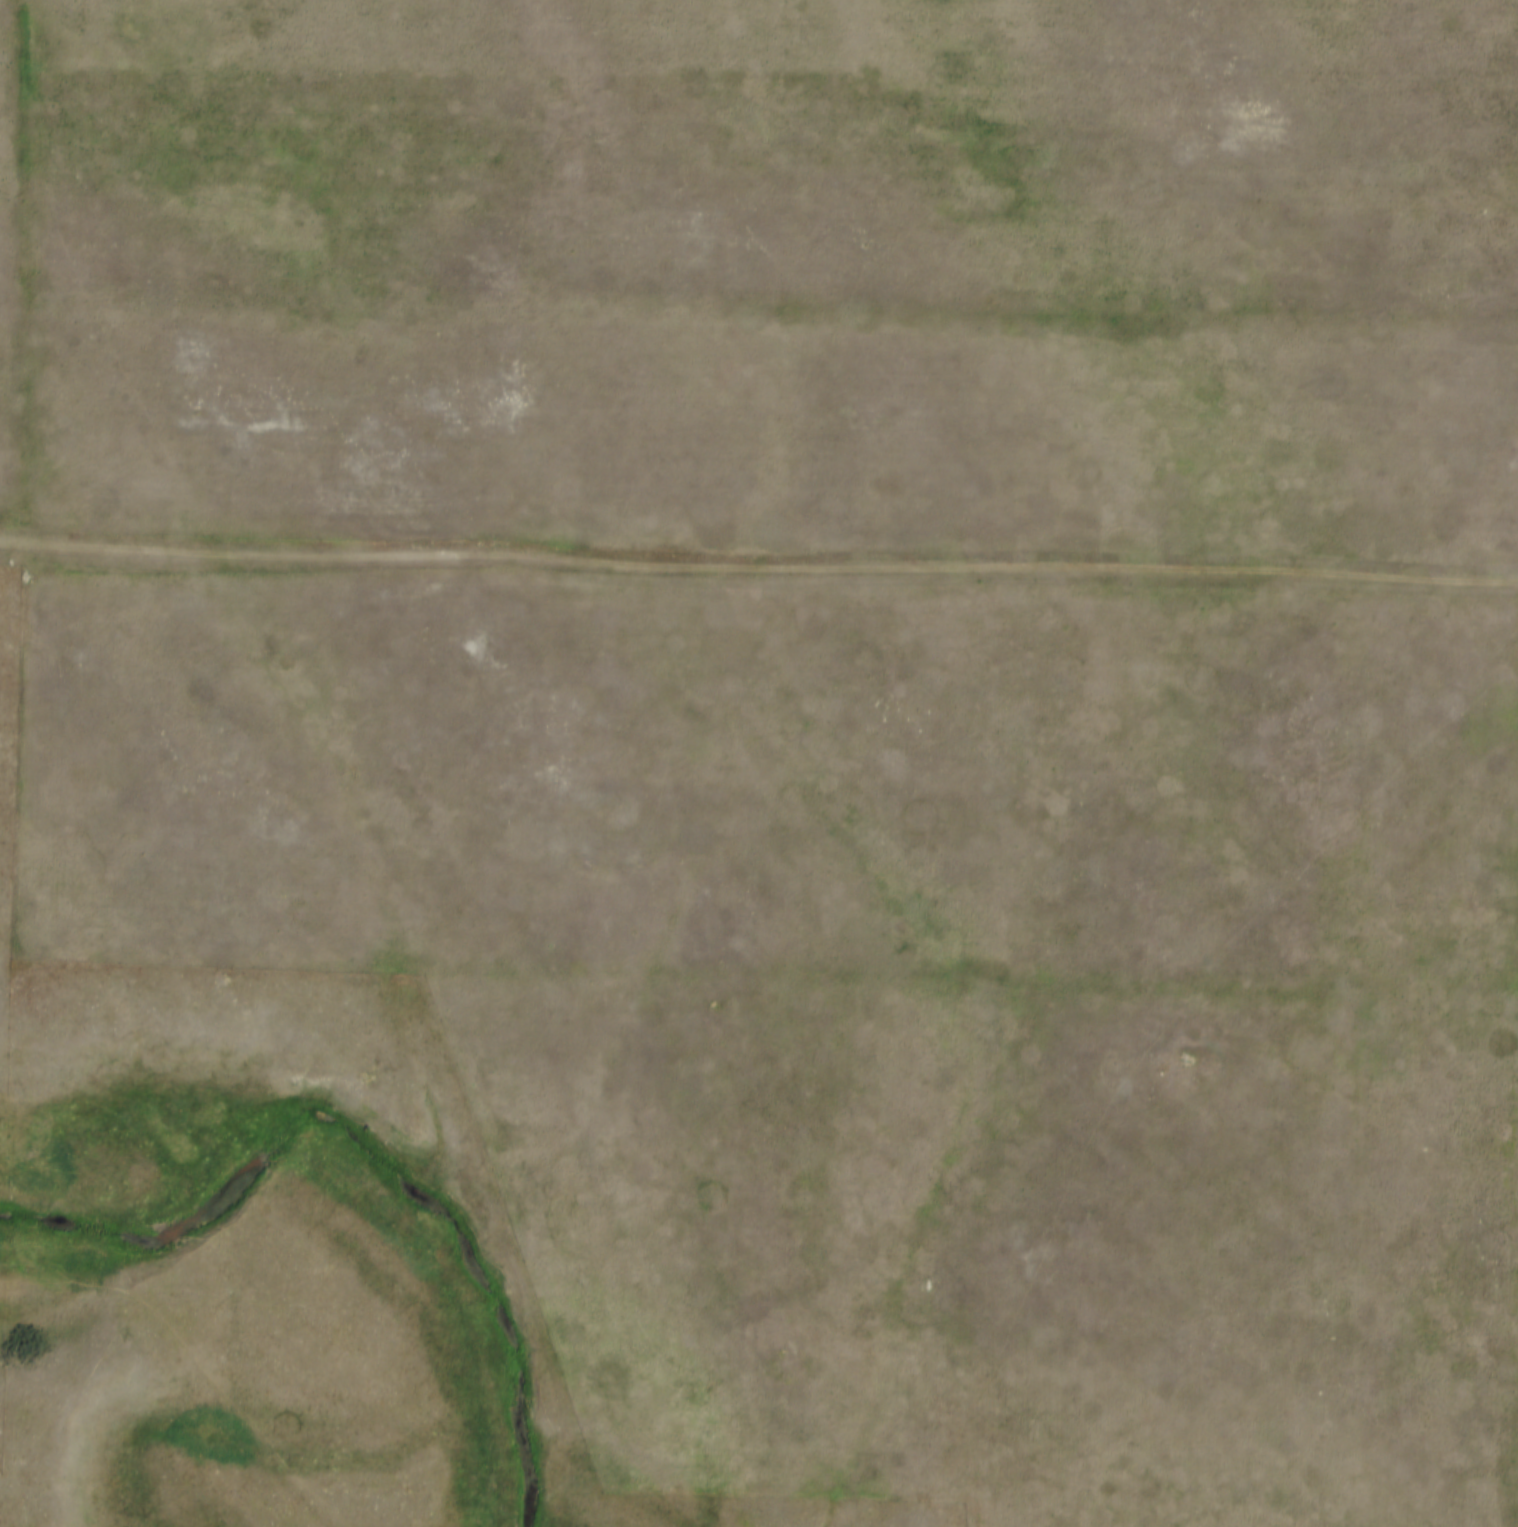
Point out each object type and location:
road: (759, 566)

